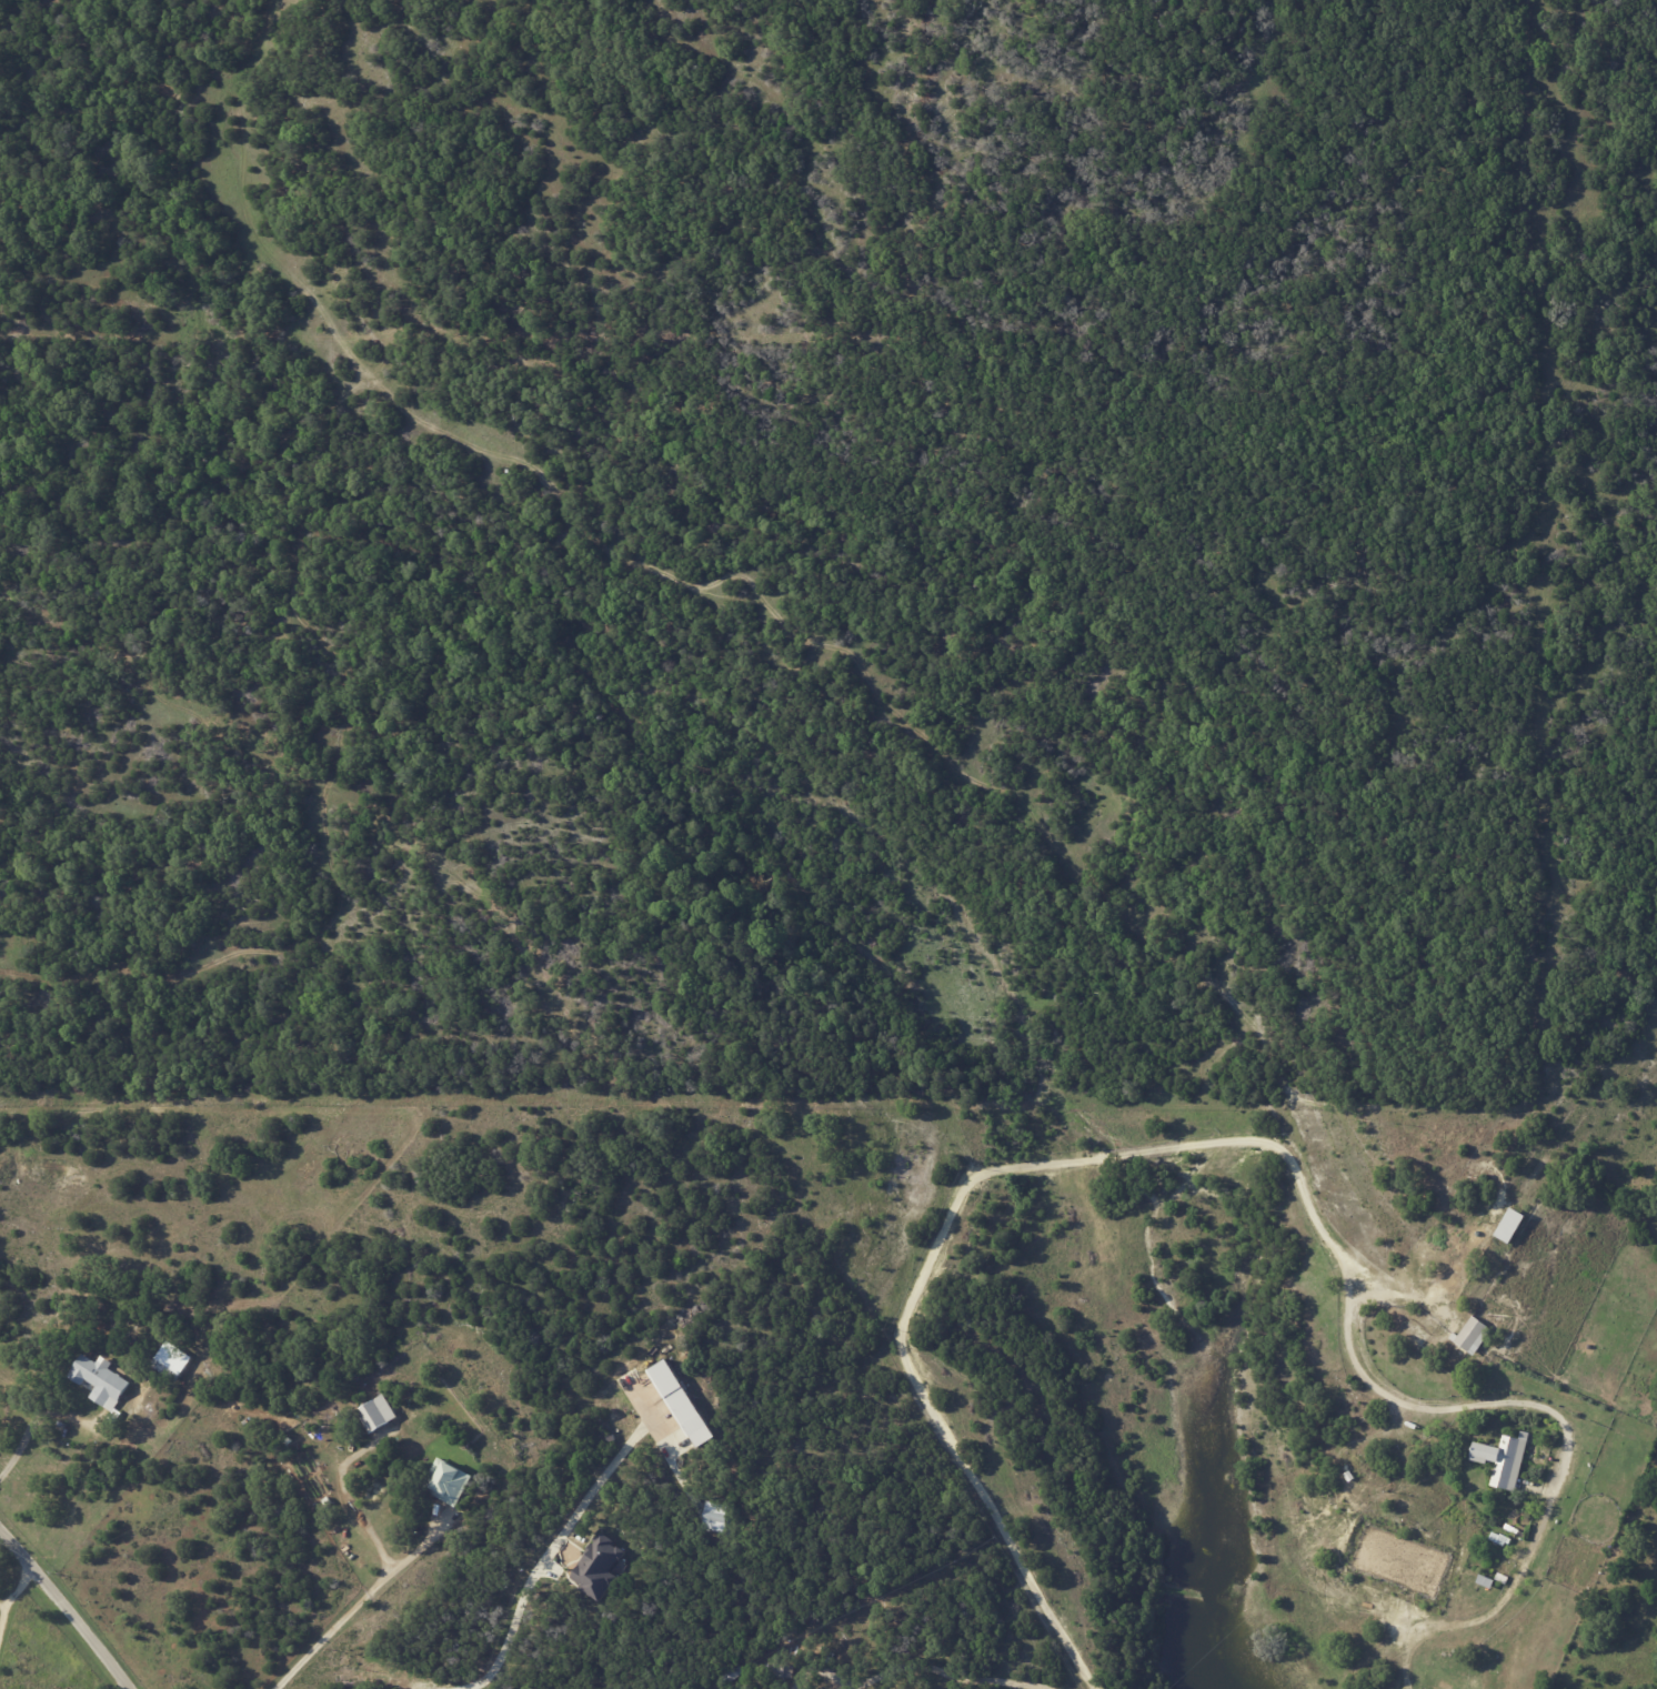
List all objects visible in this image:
road: (1095, 1155)
building: (1509, 1225)
building: (1470, 1334)
building: (170, 1361)
building: (98, 1380)
building: (680, 1403)
building: (376, 1412)
road: (37, 1424)
building: (1502, 1459)
building: (448, 1480)
building: (710, 1517)
road: (542, 1556)
building: (595, 1566)
building: (1486, 1580)
road: (19, 1585)
road: (3, 1602)
road: (356, 1605)
road: (67, 1609)
road: (3, 1619)
road: (952, 1673)

